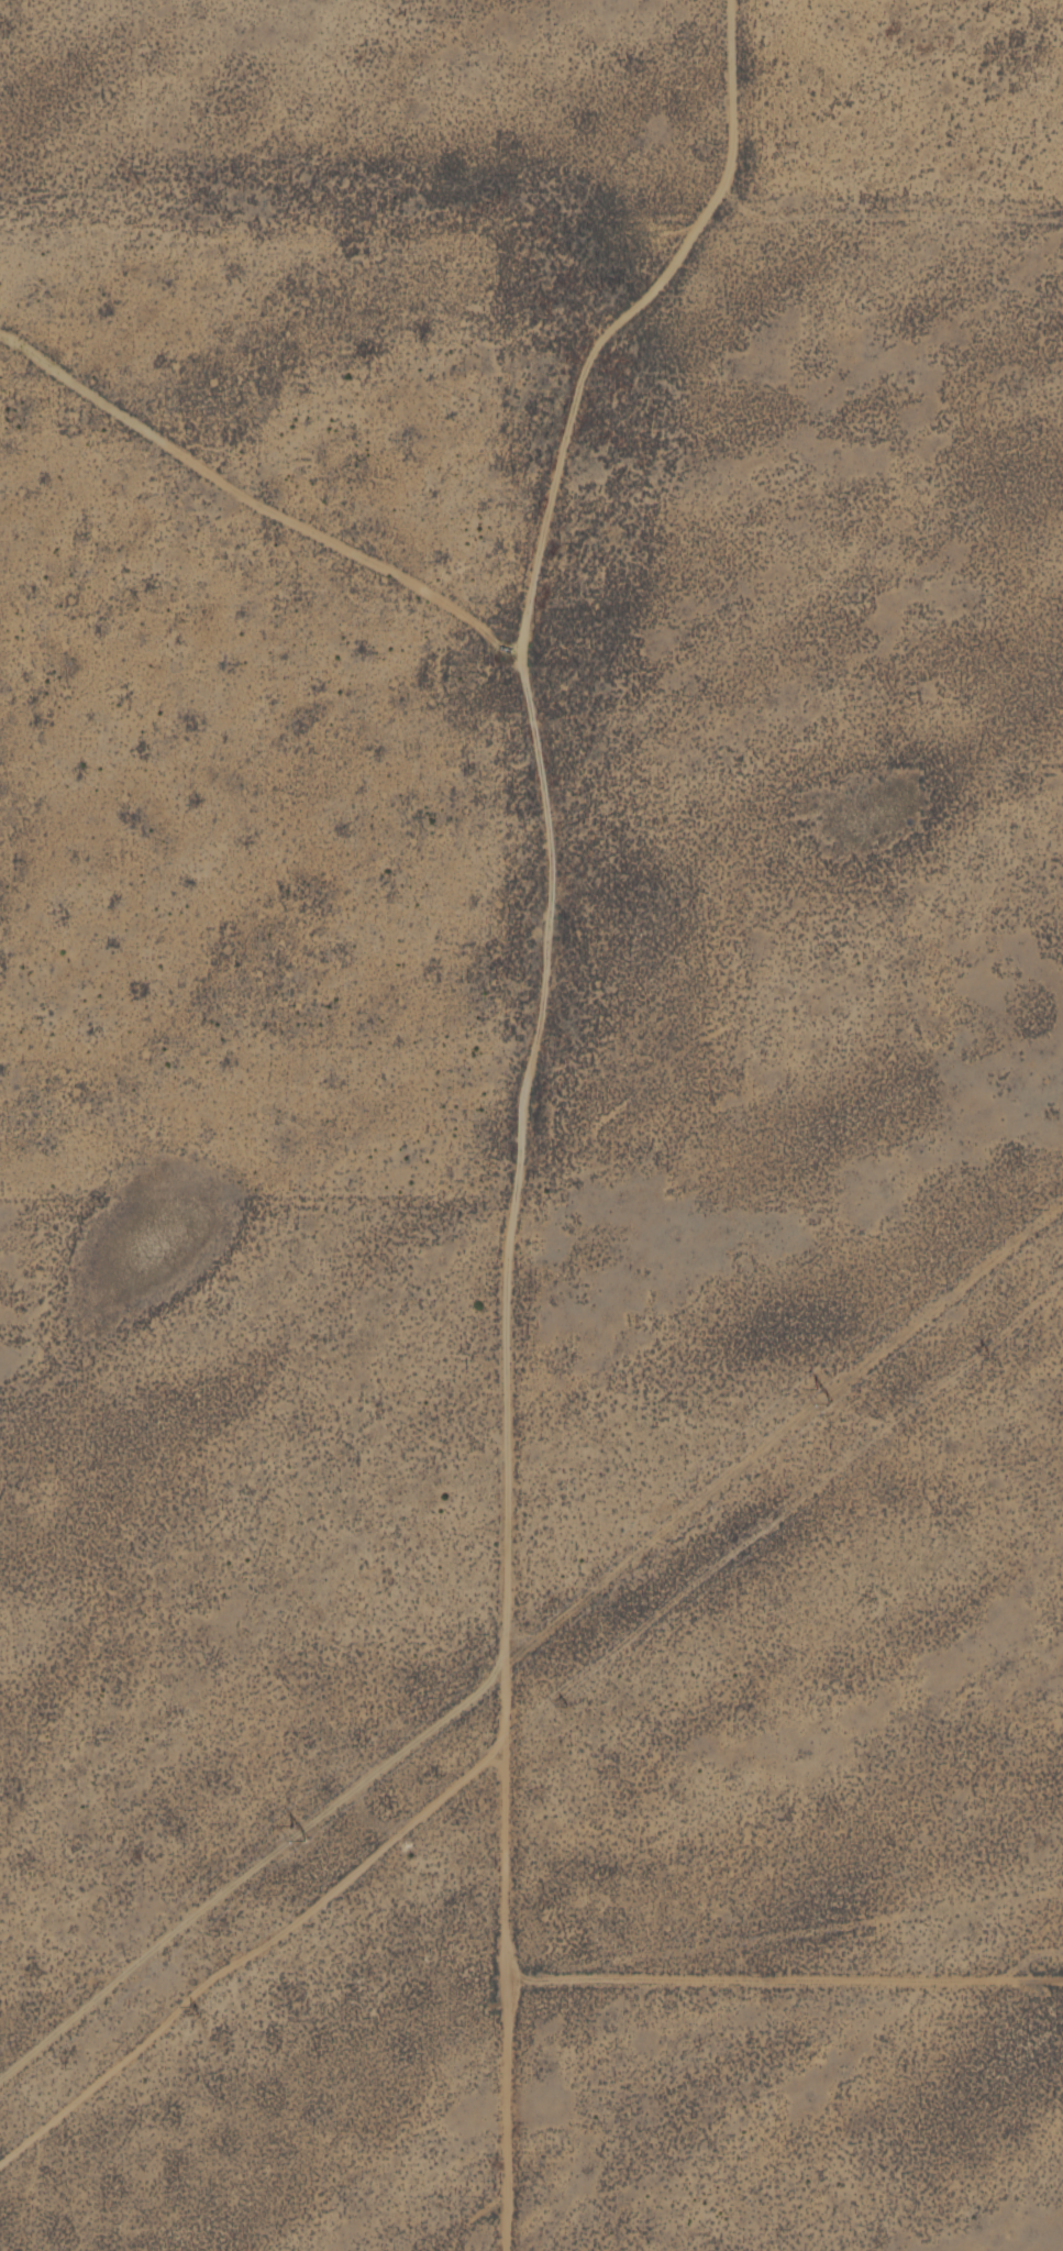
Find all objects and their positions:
road: (597, 1114)
power tower: (996, 1350)
power tower: (826, 1398)
power tower: (578, 1703)
power tower: (294, 1833)
power tower: (193, 2010)

